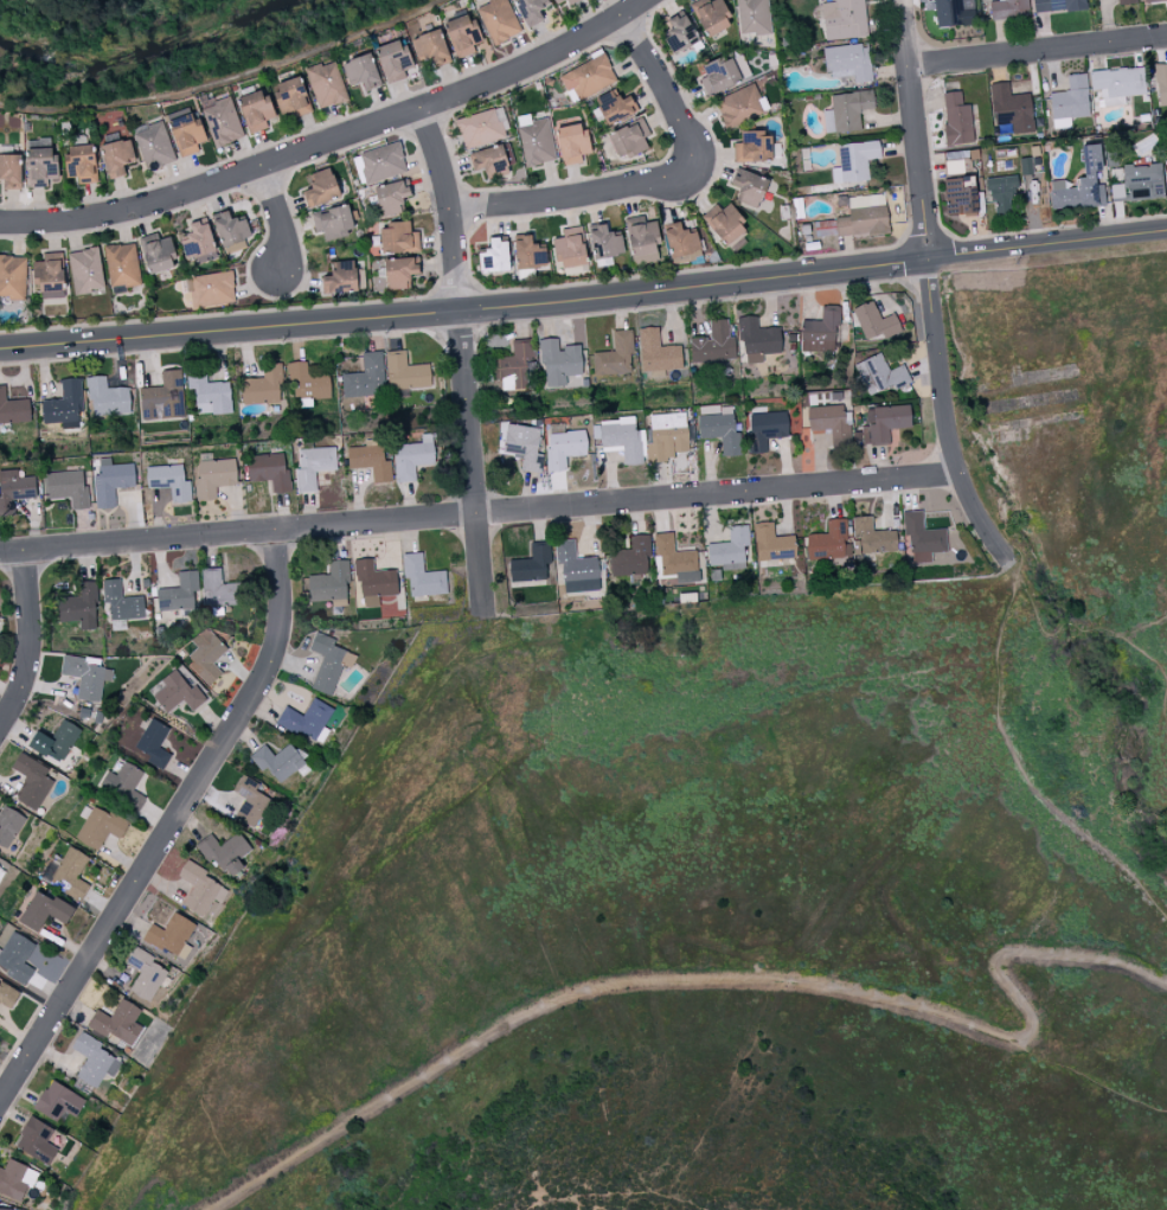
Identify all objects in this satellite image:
building: (1149, 0)
building: (558, 1)
building: (572, 1)
building: (1126, 1)
building: (1058, 5)
building: (1009, 8)
building: (531, 9)
building: (953, 13)
building: (710, 15)
building: (754, 17)
building: (844, 19)
building: (499, 20)
building: (680, 34)
building: (462, 36)
building: (431, 47)
road: (1037, 51)
building: (393, 62)
building: (849, 62)
building: (361, 72)
building: (719, 76)
road: (223, 77)
building: (589, 77)
building: (1161, 83)
building: (1117, 84)
building: (326, 85)
road: (659, 87)
building: (293, 98)
building: (1070, 101)
building: (739, 105)
building: (615, 108)
building: (1012, 109)
building: (255, 111)
building: (846, 111)
building: (957, 120)
building: (223, 123)
building: (480, 129)
building: (187, 135)
building: (630, 139)
road: (331, 141)
building: (537, 143)
building: (155, 145)
building: (572, 145)
building: (754, 148)
building: (117, 158)
building: (490, 161)
building: (383, 162)
building: (82, 165)
building: (41, 167)
building: (11, 172)
building: (1092, 178)
building: (1140, 183)
building: (321, 188)
building: (749, 188)
building: (1002, 193)
building: (1063, 196)
road: (565, 197)
building: (961, 197)
building: (391, 198)
road: (445, 209)
building: (858, 218)
road: (276, 219)
building: (332, 223)
building: (724, 223)
building: (230, 229)
building: (642, 237)
building: (398, 239)
building: (198, 241)
building: (604, 242)
building: (681, 243)
road: (1046, 244)
building: (570, 249)
building: (527, 252)
building: (158, 254)
building: (494, 257)
building: (122, 265)
building: (86, 271)
building: (50, 273)
building: (399, 273)
building: (13, 279)
building: (340, 279)
road: (691, 287)
road: (928, 287)
building: (212, 289)
building: (873, 321)
road: (229, 331)
building: (821, 331)
building: (757, 339)
building: (713, 345)
building: (656, 353)
building: (616, 357)
building: (558, 361)
building: (518, 365)
building: (405, 372)
building: (881, 374)
building: (366, 377)
building: (308, 382)
building: (264, 386)
building: (210, 395)
building: (163, 397)
building: (108, 398)
building: (64, 405)
building: (13, 409)
building: (831, 422)
building: (884, 423)
building: (719, 425)
building: (767, 429)
building: (668, 436)
building: (622, 440)
building: (524, 447)
building: (565, 448)
building: (415, 457)
road: (470, 459)
building: (371, 460)
building: (314, 466)
building: (270, 470)
building: (214, 478)
building: (111, 481)
building: (171, 481)
building: (68, 487)
building: (14, 491)
road: (480, 512)
building: (923, 536)
building: (871, 538)
building: (829, 543)
building: (772, 544)
building: (730, 548)
building: (673, 556)
building: (631, 558)
building: (531, 564)
building: (575, 564)
building: (423, 576)
building: (374, 582)
building: (220, 589)
building: (179, 591)
building: (121, 601)
building: (79, 606)
road: (31, 642)
building: (206, 654)
building: (327, 662)
building: (86, 674)
building: (178, 692)
building: (306, 718)
building: (57, 740)
building: (154, 743)
building: (280, 761)
road: (1020, 766)
building: (32, 781)
building: (124, 783)
building: (250, 800)
building: (8, 825)
road: (172, 825)
building: (101, 827)
building: (225, 852)
building: (2, 869)
building: (72, 872)
building: (203, 891)
building: (46, 909)
building: (171, 933)
building: (17, 958)
building: (146, 973)
road: (723, 978)
building: (7, 994)
building: (118, 1023)
building: (95, 1061)
road: (1091, 1080)
building: (59, 1101)
building: (36, 1139)
building: (15, 1179)
building: (5, 1209)

